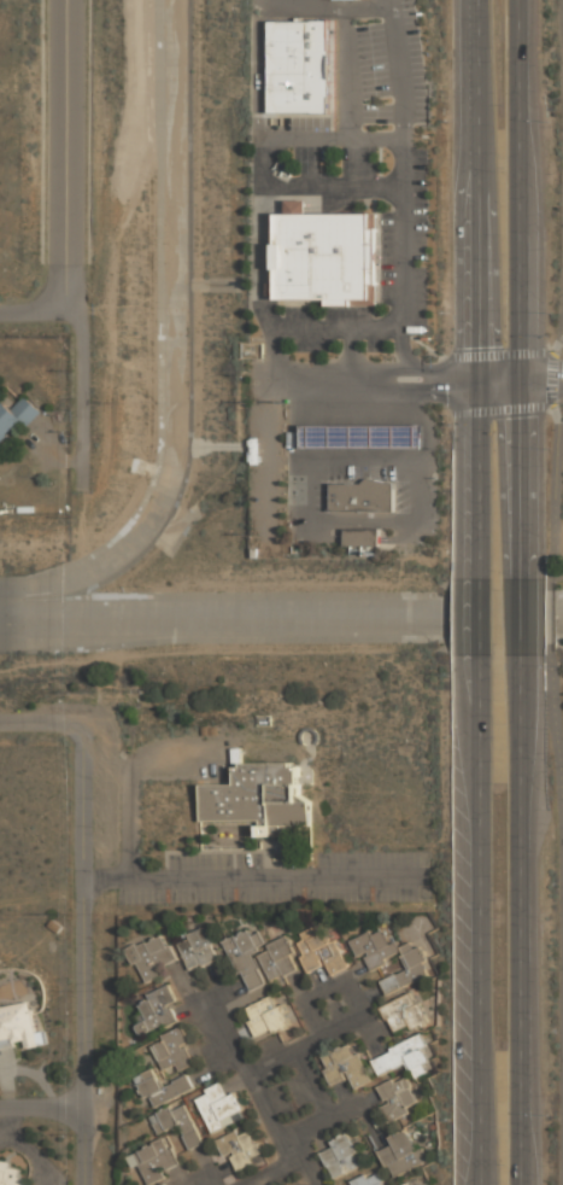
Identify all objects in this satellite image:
road: (366, 7)
building: (300, 66)
road: (317, 139)
road: (66, 157)
building: (327, 257)
road: (523, 287)
road: (479, 291)
road: (33, 314)
road: (338, 326)
road: (352, 352)
road: (421, 378)
traffic signals: (479, 378)
traffic signals: (524, 378)
road: (544, 378)
road: (69, 393)
building: (16, 416)
building: (362, 437)
road: (558, 439)
building: (362, 496)
building: (362, 538)
road: (558, 553)
road: (552, 606)
road: (528, 615)
road: (481, 619)
road: (42, 720)
road: (559, 729)
building: (260, 796)
road: (256, 876)
road: (530, 920)
road: (481, 921)
building: (415, 936)
building: (197, 947)
building: (322, 950)
road: (84, 952)
building: (151, 956)
building: (392, 957)
building: (263, 976)
building: (158, 1008)
building: (404, 1011)
building: (18, 1027)
building: (174, 1049)
building: (404, 1057)
building: (345, 1064)
building: (163, 1087)
building: (395, 1097)
road: (42, 1102)
building: (219, 1105)
road: (299, 1114)
building: (177, 1122)
building: (241, 1148)
building: (403, 1152)
building: (341, 1154)
building: (156, 1160)
building: (10, 1175)
building: (369, 1179)
building: (412, 1183)
building: (164, 1184)

